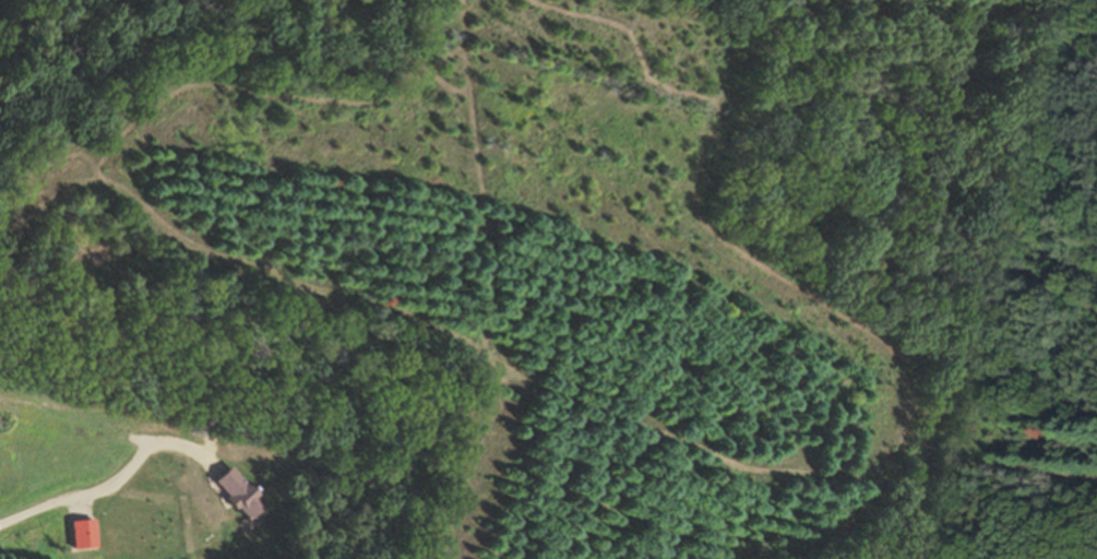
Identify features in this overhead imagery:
road: (16, 19)
road: (106, 479)

